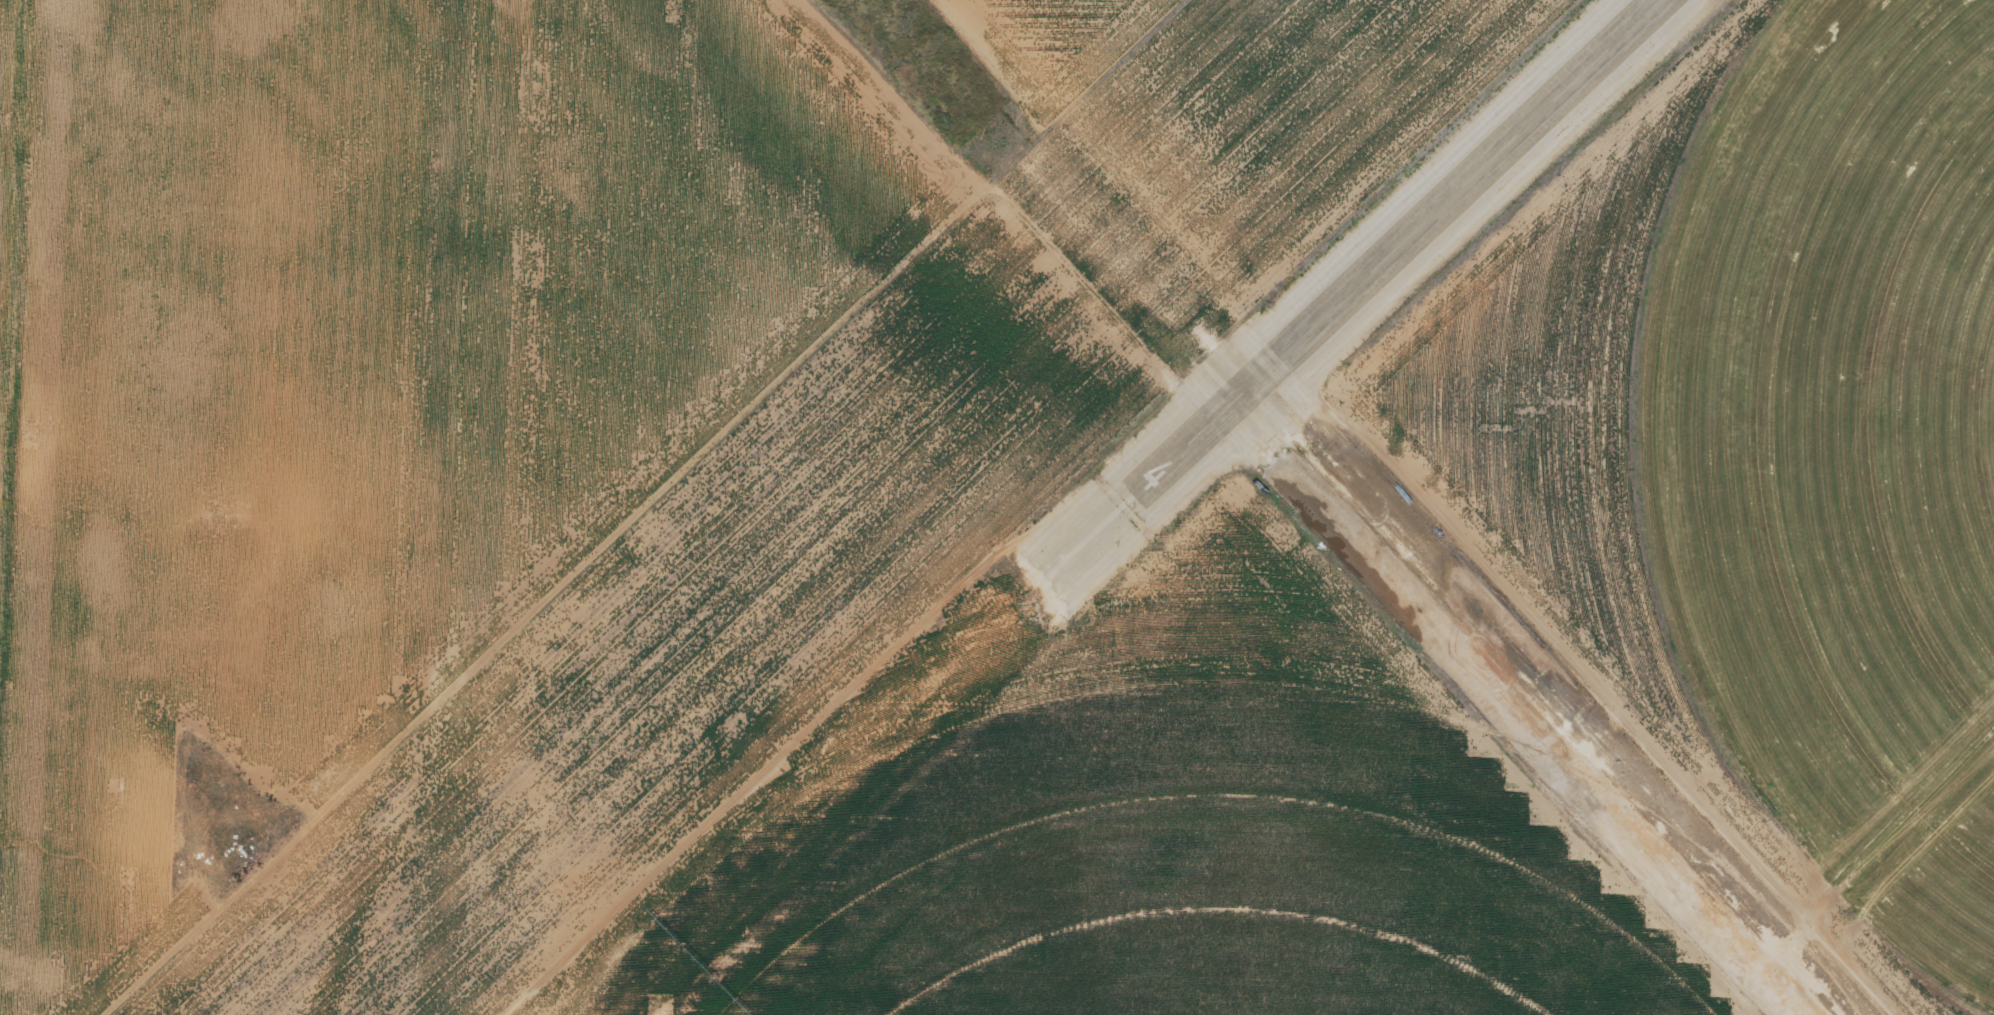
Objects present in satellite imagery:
airport runway: (1402, 240)
crop: (1842, 453)
airport: (997, 507)
building: (1523, 659)
crop: (1191, 915)

